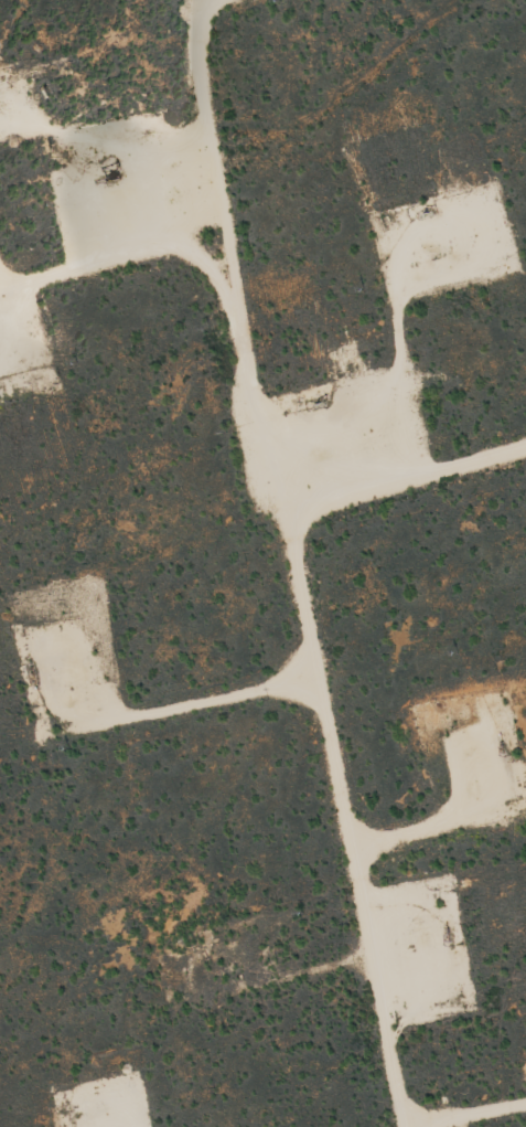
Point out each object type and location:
petroleum well: (310, 404)
road: (406, 476)
road: (301, 586)

